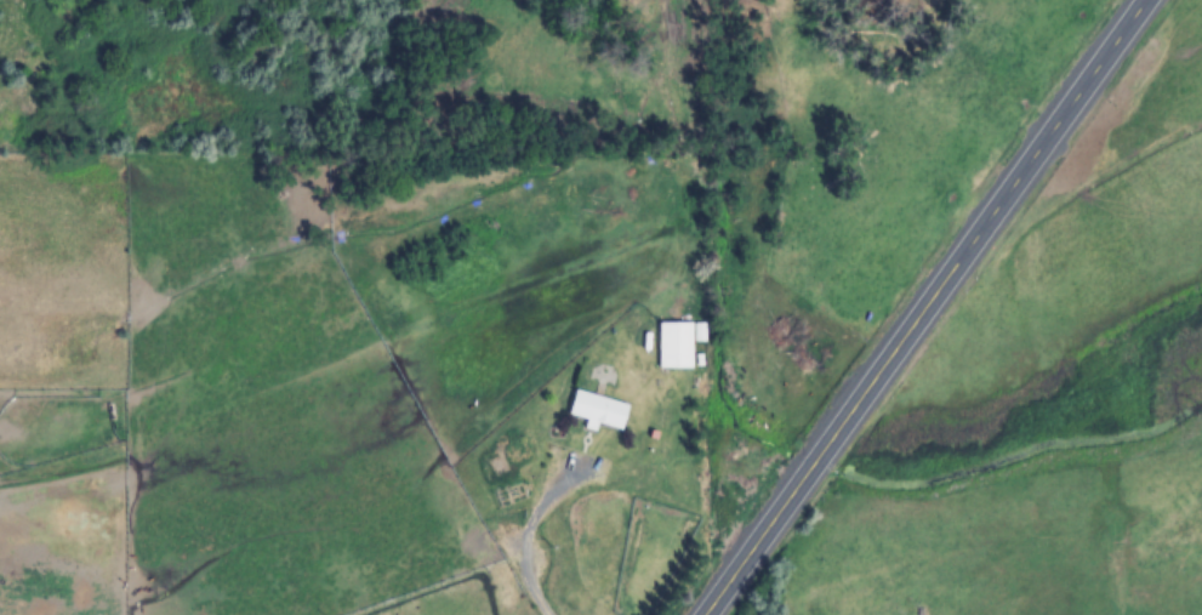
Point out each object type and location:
crop: (600, 307)
road: (921, 307)
building: (673, 346)
building: (596, 410)

